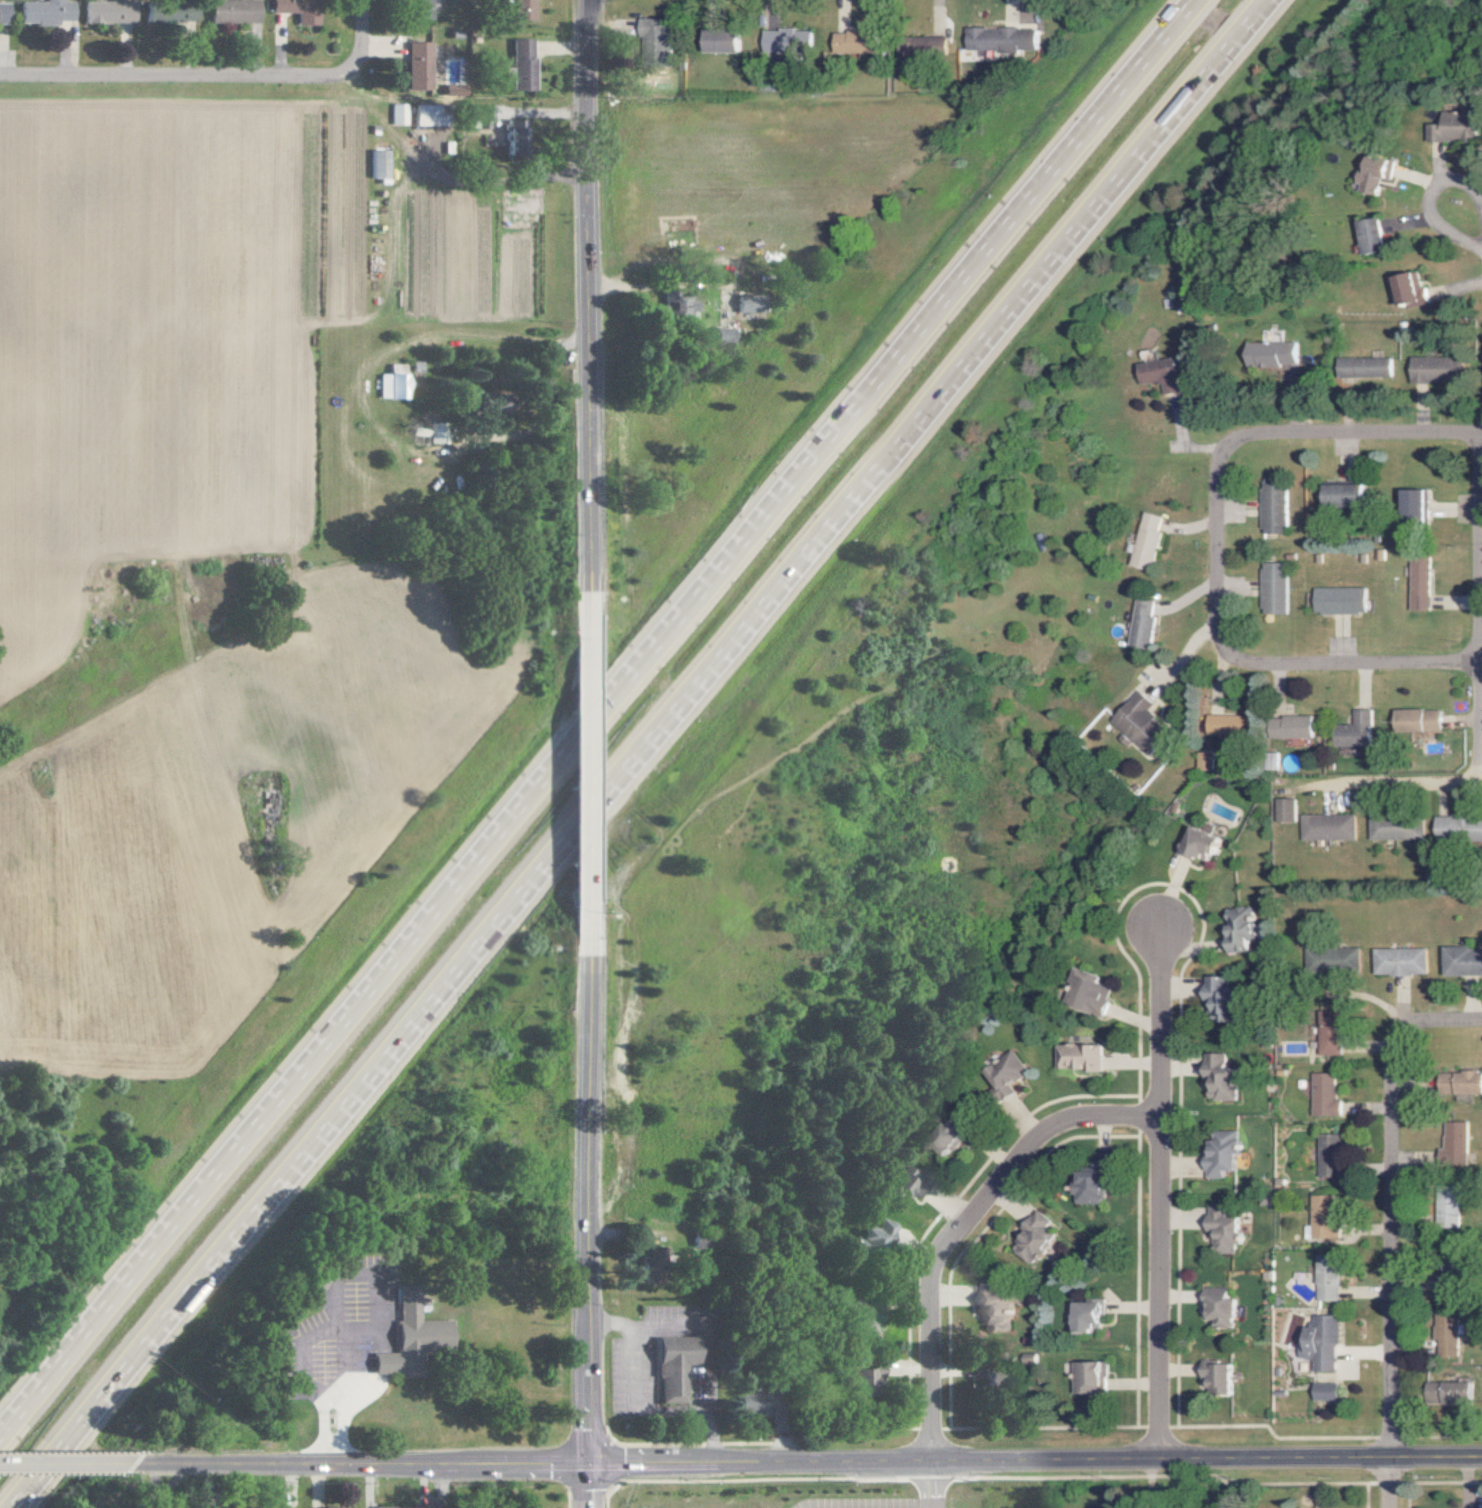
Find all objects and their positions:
building: (297, 9)
building: (422, 9)
building: (525, 9)
building: (44, 11)
building: (108, 11)
building: (234, 11)
building: (3, 12)
building: (170, 12)
road: (362, 37)
building: (654, 39)
building: (1002, 39)
building: (722, 40)
building: (855, 41)
building: (787, 42)
road: (1054, 46)
building: (925, 47)
building: (526, 64)
building: (421, 65)
road: (178, 78)
building: (400, 113)
building: (432, 114)
building: (1458, 127)
building: (518, 137)
building: (381, 164)
building: (1376, 174)
road: (1428, 198)
building: (1375, 235)
building: (1414, 289)
building: (680, 302)
building: (749, 303)
road: (591, 314)
building: (724, 334)
building: (1273, 354)
building: (1366, 367)
building: (1439, 369)
building: (1163, 373)
building: (396, 382)
road: (550, 396)
building: (436, 432)
road: (1367, 435)
building: (1346, 495)
building: (1416, 507)
building: (1272, 508)
building: (1148, 541)
building: (1420, 583)
building: (1272, 588)
building: (1339, 600)
building: (1144, 623)
road: (1234, 657)
road: (1480, 700)
building: (1419, 720)
road: (598, 722)
building: (1141, 724)
building: (1230, 725)
building: (1291, 726)
building: (1356, 730)
road: (643, 753)
road: (590, 774)
building: (1286, 810)
building: (1328, 827)
building: (1397, 828)
building: (1459, 828)
building: (1201, 844)
building: (1237, 929)
building: (1329, 959)
building: (1398, 961)
building: (1461, 961)
building: (1089, 993)
building: (1215, 995)
road: (1438, 1022)
building: (1327, 1032)
building: (1078, 1057)
building: (1219, 1077)
building: (1004, 1078)
building: (1460, 1082)
building: (1321, 1095)
building: (953, 1135)
building: (1452, 1144)
building: (1221, 1152)
building: (1327, 1157)
building: (911, 1179)
building: (1092, 1185)
road: (590, 1192)
road: (1155, 1192)
building: (1446, 1209)
building: (1322, 1217)
road: (957, 1225)
building: (1225, 1228)
building: (875, 1236)
building: (1035, 1238)
building: (705, 1240)
road: (1389, 1244)
building: (654, 1266)
building: (1328, 1278)
building: (1221, 1306)
building: (997, 1308)
building: (1090, 1316)
building: (867, 1322)
road: (345, 1324)
building: (419, 1325)
road: (333, 1326)
road: (711, 1334)
building: (1447, 1336)
building: (1322, 1342)
road: (348, 1347)
building: (1031, 1358)
building: (389, 1362)
road: (386, 1363)
building: (677, 1366)
building: (1091, 1377)
building: (996, 1378)
building: (1220, 1378)
building: (867, 1381)
building: (1327, 1391)
building: (1451, 1393)
building: (755, 1402)
road: (369, 1412)
road: (1036, 1462)
road: (64, 1465)
road: (359, 1466)
road: (1390, 1483)
road: (929, 1485)
road: (446, 1487)
road: (589, 1487)
park: (127, 1498)
building: (336, 1507)

